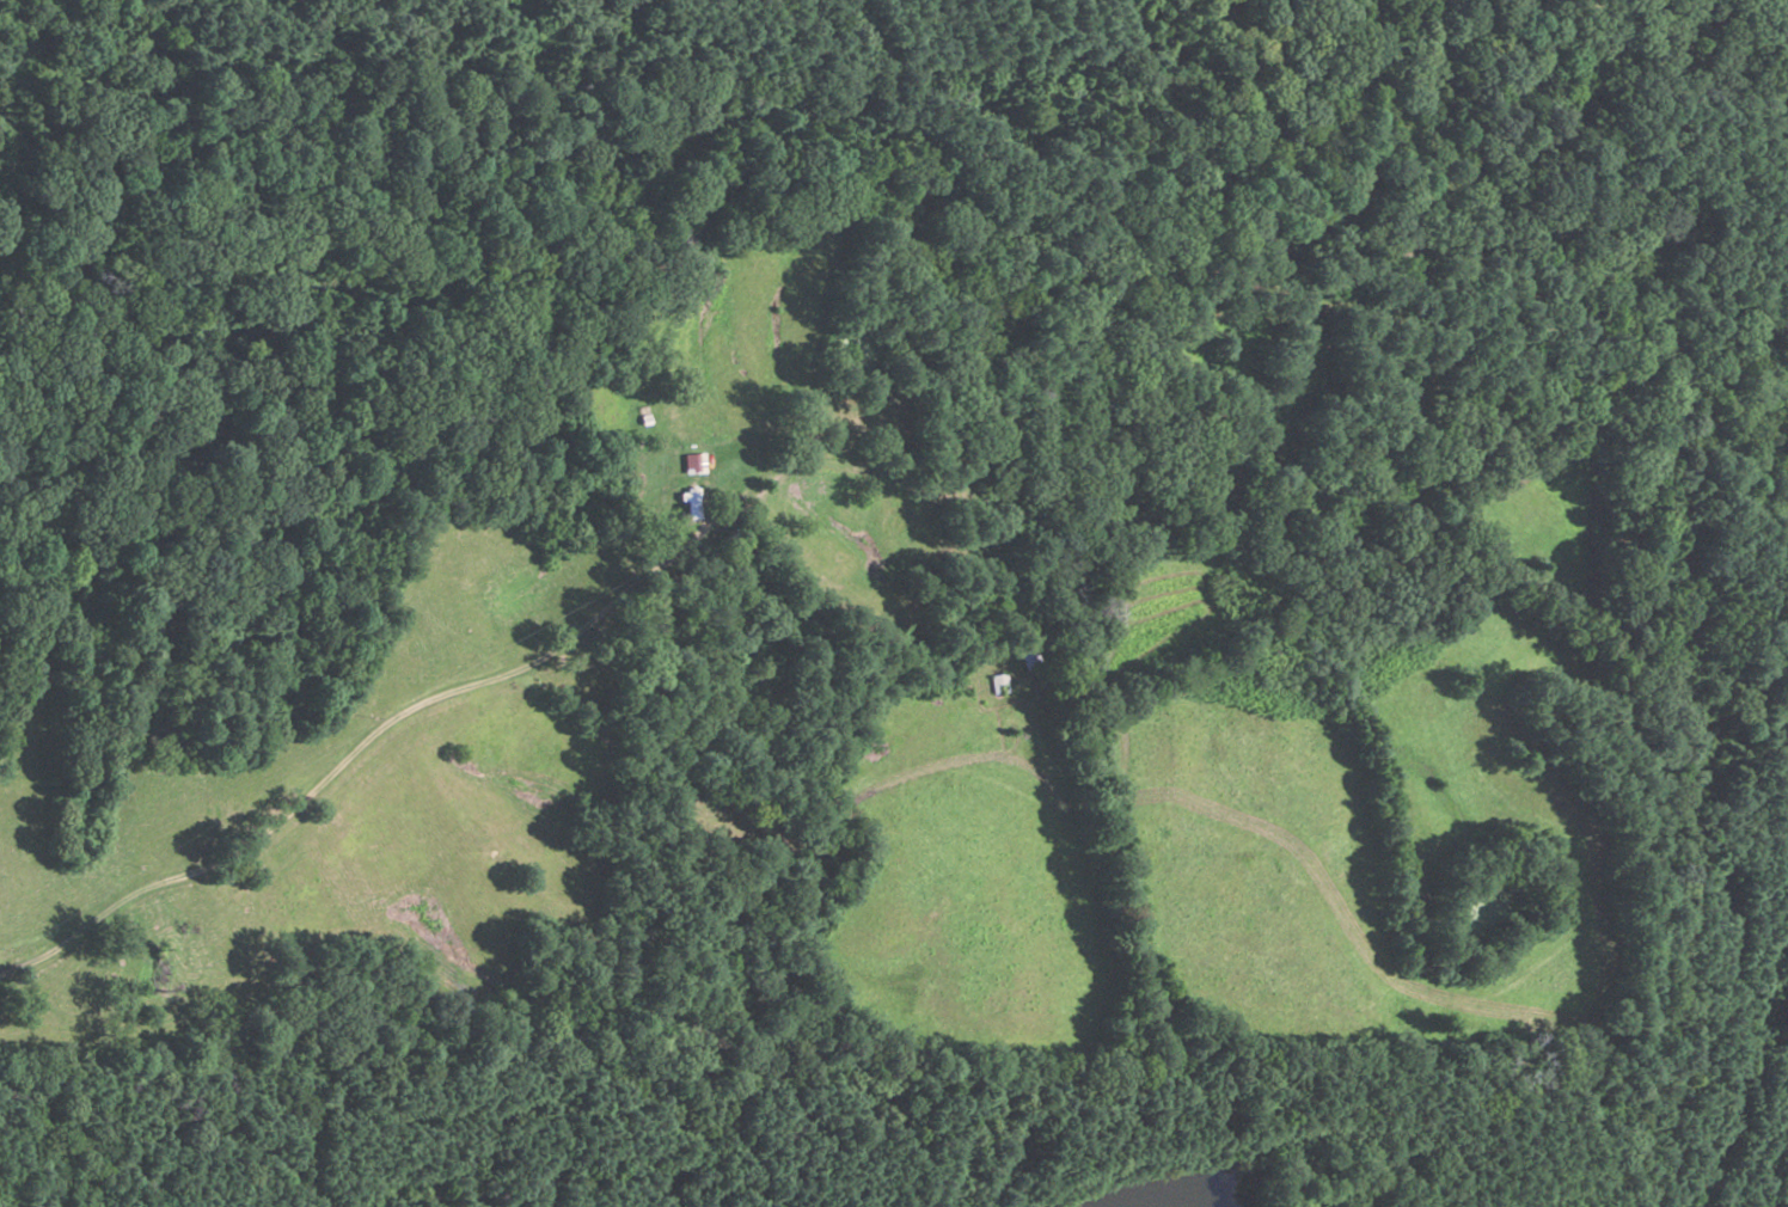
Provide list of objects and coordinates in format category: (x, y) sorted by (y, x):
building: (693, 461)
building: (692, 502)
building: (1031, 656)
building: (999, 682)
building: (167, 753)
road: (345, 754)

